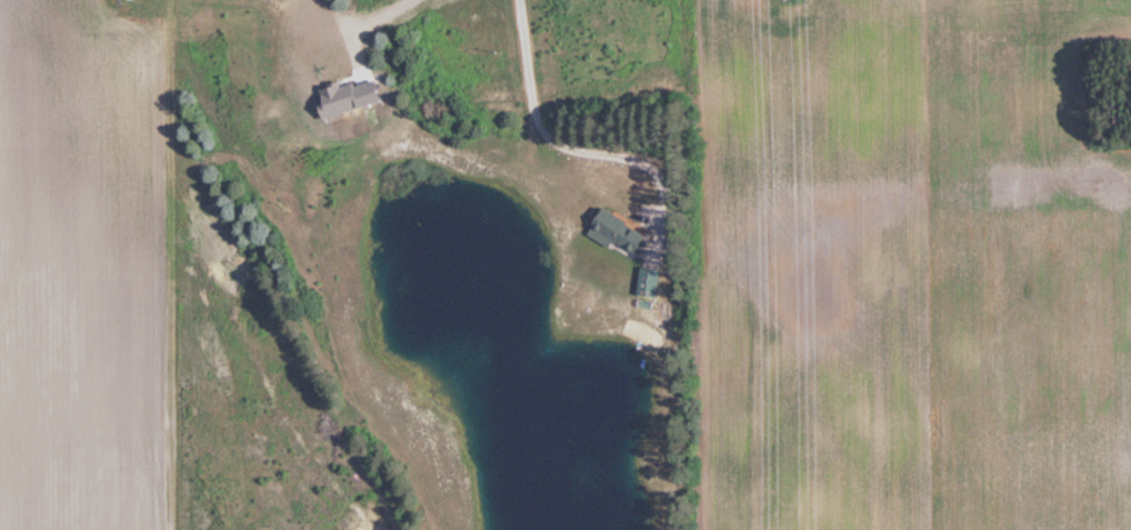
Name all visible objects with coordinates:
road: (367, 26)
road: (565, 143)

